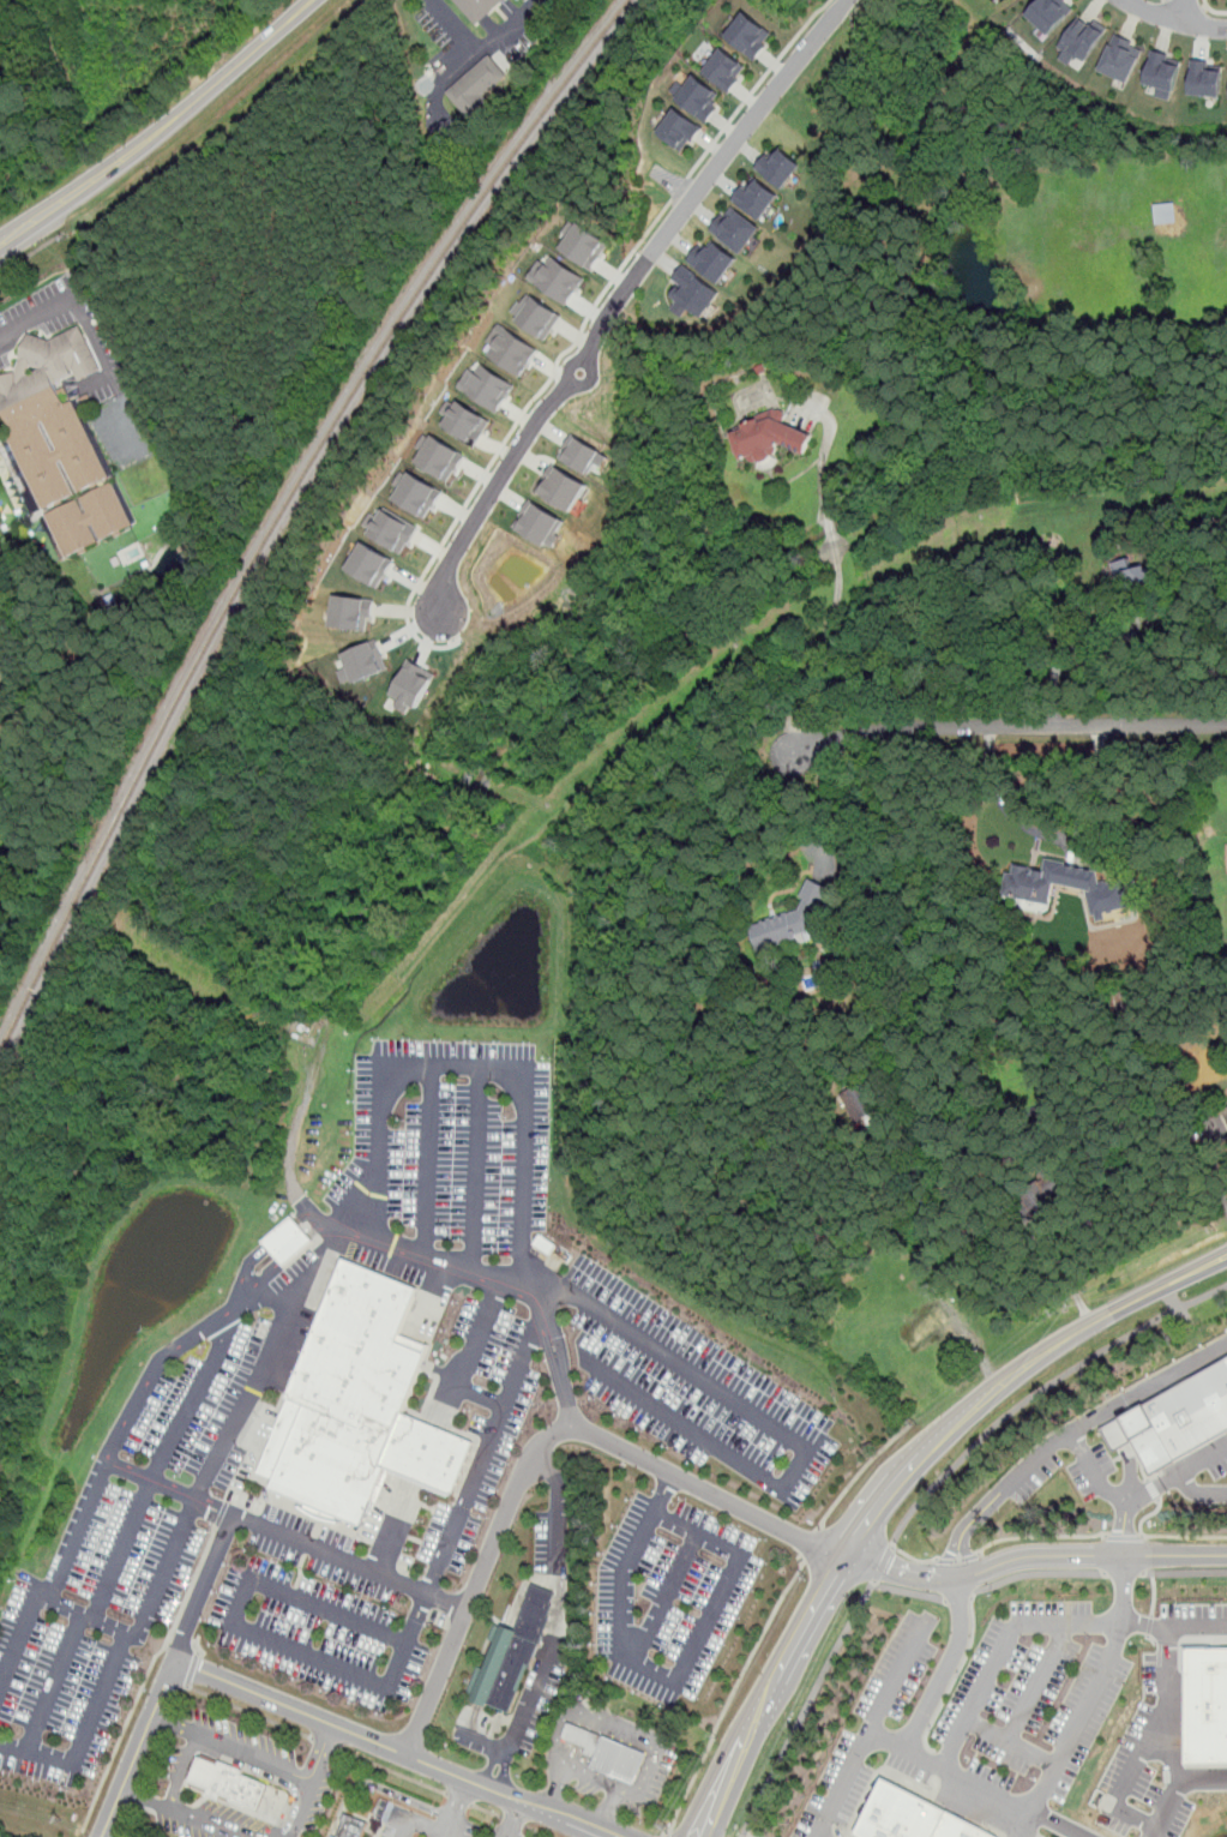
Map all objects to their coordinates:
road: (1207, 2)
road: (1189, 4)
road: (1205, 6)
building: (477, 8)
road: (1187, 10)
road: (1216, 11)
building: (1049, 14)
road: (1174, 17)
building: (747, 36)
building: (1079, 42)
road: (477, 53)
building: (1120, 56)
building: (726, 70)
building: (1162, 72)
building: (1205, 78)
building: (477, 84)
road: (757, 85)
building: (699, 97)
building: (679, 128)
road: (163, 131)
building: (777, 166)
building: (757, 197)
road: (660, 212)
building: (1165, 214)
building: (736, 229)
building: (583, 245)
road: (31, 252)
building: (714, 259)
building: (555, 277)
building: (692, 290)
road: (620, 296)
building: (536, 316)
road: (37, 318)
building: (511, 349)
building: (486, 385)
building: (463, 421)
building: (766, 437)
building: (61, 442)
building: (582, 454)
road: (822, 455)
building: (439, 456)
building: (561, 486)
building: (415, 493)
railway: (278, 506)
building: (540, 523)
road: (830, 528)
building: (390, 529)
building: (368, 564)
building: (1132, 572)
building: (350, 611)
road: (1071, 643)
road: (817, 647)
building: (362, 662)
building: (411, 684)
road: (1005, 724)
road: (817, 793)
road: (1046, 834)
building: (1226, 852)
building: (1035, 880)
building: (1033, 905)
building: (794, 919)
road: (481, 1064)
building: (1226, 1107)
road: (431, 1158)
road: (477, 1167)
building: (289, 1239)
road: (1065, 1272)
building: (952, 1314)
road: (465, 1357)
road: (252, 1386)
road: (1148, 1386)
road: (145, 1388)
road: (1039, 1392)
road: (192, 1400)
building: (362, 1406)
building: (1175, 1419)
road: (798, 1442)
road: (485, 1451)
road: (1083, 1457)
road: (646, 1459)
road: (1203, 1461)
road: (859, 1473)
road: (417, 1482)
road: (896, 1482)
road: (1153, 1488)
road: (662, 1489)
road: (1198, 1494)
road: (664, 1514)
road: (1147, 1515)
road: (967, 1525)
road: (1126, 1525)
road: (78, 1532)
road: (1185, 1535)
road: (1125, 1536)
road: (1039, 1537)
road: (811, 1545)
road: (121, 1551)
road: (1091, 1555)
road: (912, 1557)
road: (956, 1559)
road: (882, 1562)
road: (1036, 1572)
road: (1183, 1572)
road: (163, 1573)
road: (902, 1573)
road: (1123, 1573)
road: (476, 1580)
road: (1123, 1589)
road: (909, 1591)
road: (667, 1595)
road: (960, 1597)
road: (1153, 1598)
road: (37, 1599)
road: (558, 1621)
road: (1173, 1627)
road: (252, 1629)
road: (197, 1646)
road: (1003, 1650)
building: (511, 1655)
road: (945, 1667)
road: (191, 1669)
road: (145, 1676)
road: (172, 1679)
road: (1040, 1681)
road: (52, 1682)
road: (733, 1692)
building: (1207, 1706)
road: (806, 1709)
road: (248, 1712)
road: (1082, 1718)
road: (179, 1730)
road: (84, 1733)
road: (1014, 1741)
road: (1148, 1741)
road: (211, 1742)
road: (324, 1742)
road: (1171, 1746)
road: (396, 1748)
building: (608, 1752)
road: (920, 1757)
road: (320, 1758)
road: (391, 1770)
road: (272, 1778)
building: (224, 1783)
road: (842, 1785)
road: (1174, 1785)
road: (374, 1787)
road: (458, 1799)
road: (146, 1801)
road: (487, 1811)
road: (510, 1817)
building: (913, 1817)
road: (513, 1820)
road: (1028, 1824)
building: (353, 1826)
road: (445, 1827)
road: (452, 1830)
road: (539, 1831)
road: (245, 1833)
road: (595, 1833)
road: (666, 1835)

